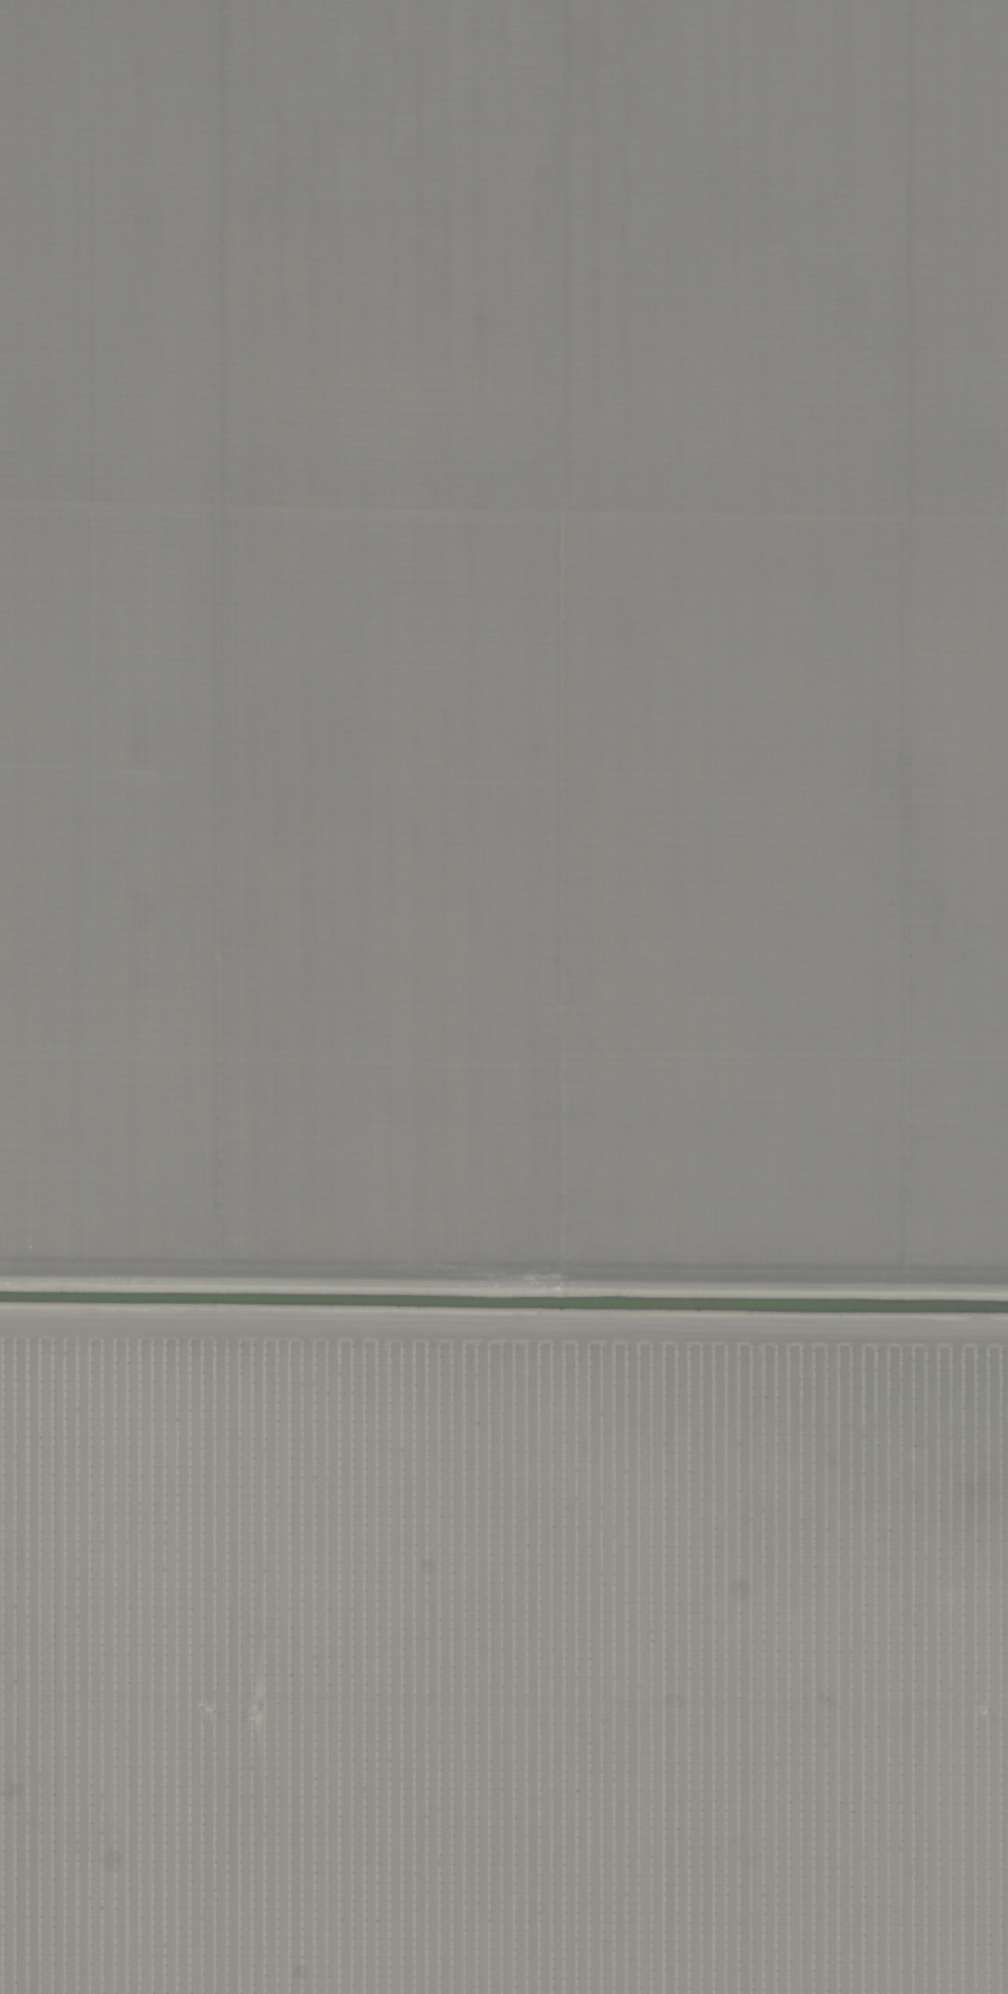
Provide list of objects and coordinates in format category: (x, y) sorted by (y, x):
crop: (504, 997)
road: (504, 1287)

